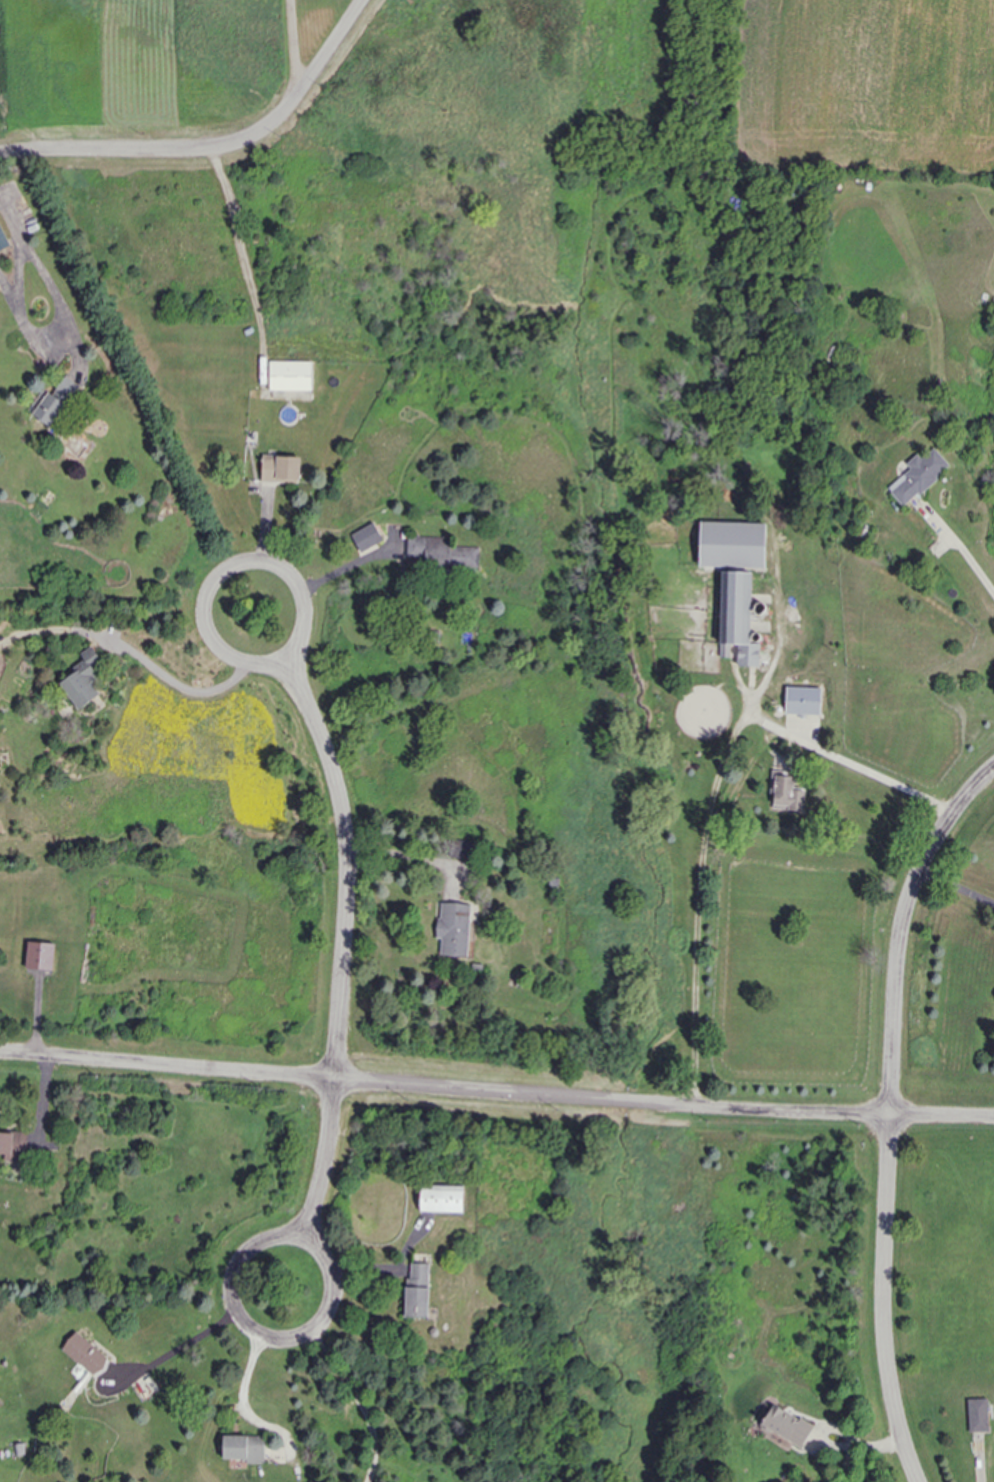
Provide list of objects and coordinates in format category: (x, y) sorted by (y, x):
road: (297, 45)
road: (215, 149)
building: (3, 241)
road: (242, 245)
road: (43, 273)
building: (292, 376)
building: (61, 400)
building: (283, 469)
building: (918, 476)
building: (730, 545)
road: (956, 548)
building: (441, 552)
road: (356, 573)
road: (299, 584)
building: (736, 617)
road: (148, 668)
building: (88, 679)
building: (802, 701)
road: (849, 763)
building: (786, 794)
road: (707, 829)
road: (416, 859)
road: (348, 869)
road: (958, 886)
building: (450, 929)
road: (902, 929)
road: (496, 1093)
building: (15, 1146)
building: (438, 1199)
road: (310, 1222)
building: (418, 1275)
road: (883, 1301)
building: (414, 1303)
road: (322, 1314)
road: (179, 1348)
building: (88, 1354)
road: (356, 1395)
building: (787, 1425)
building: (243, 1448)

